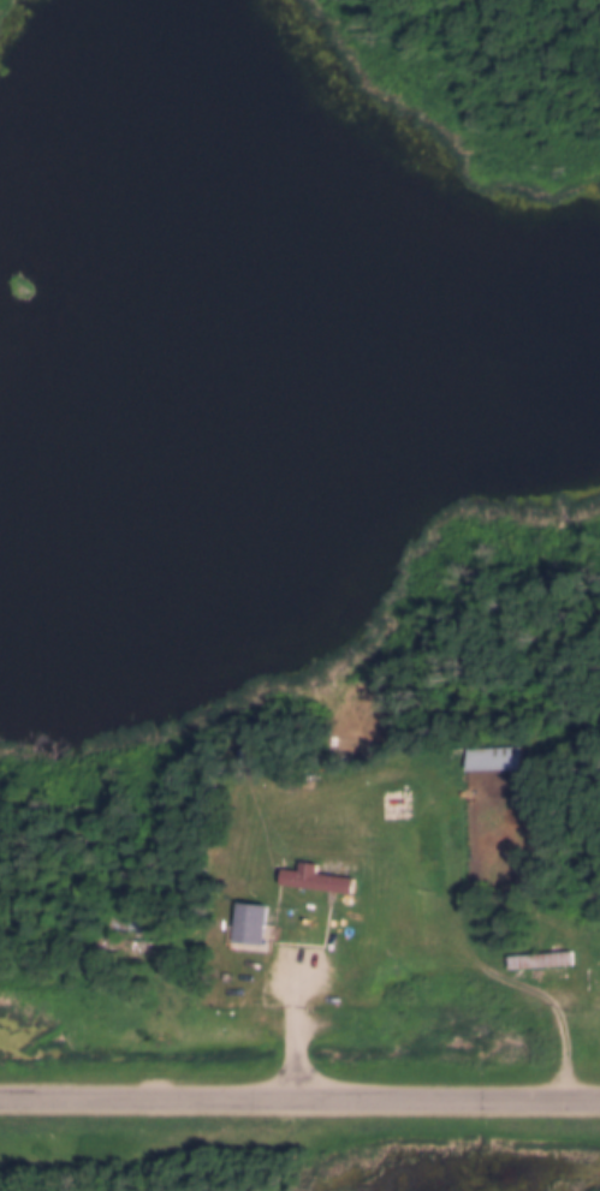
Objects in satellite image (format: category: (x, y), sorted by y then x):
building: (493, 754)
building: (317, 876)
building: (250, 919)
building: (540, 955)
building: (227, 973)
road: (299, 1102)

